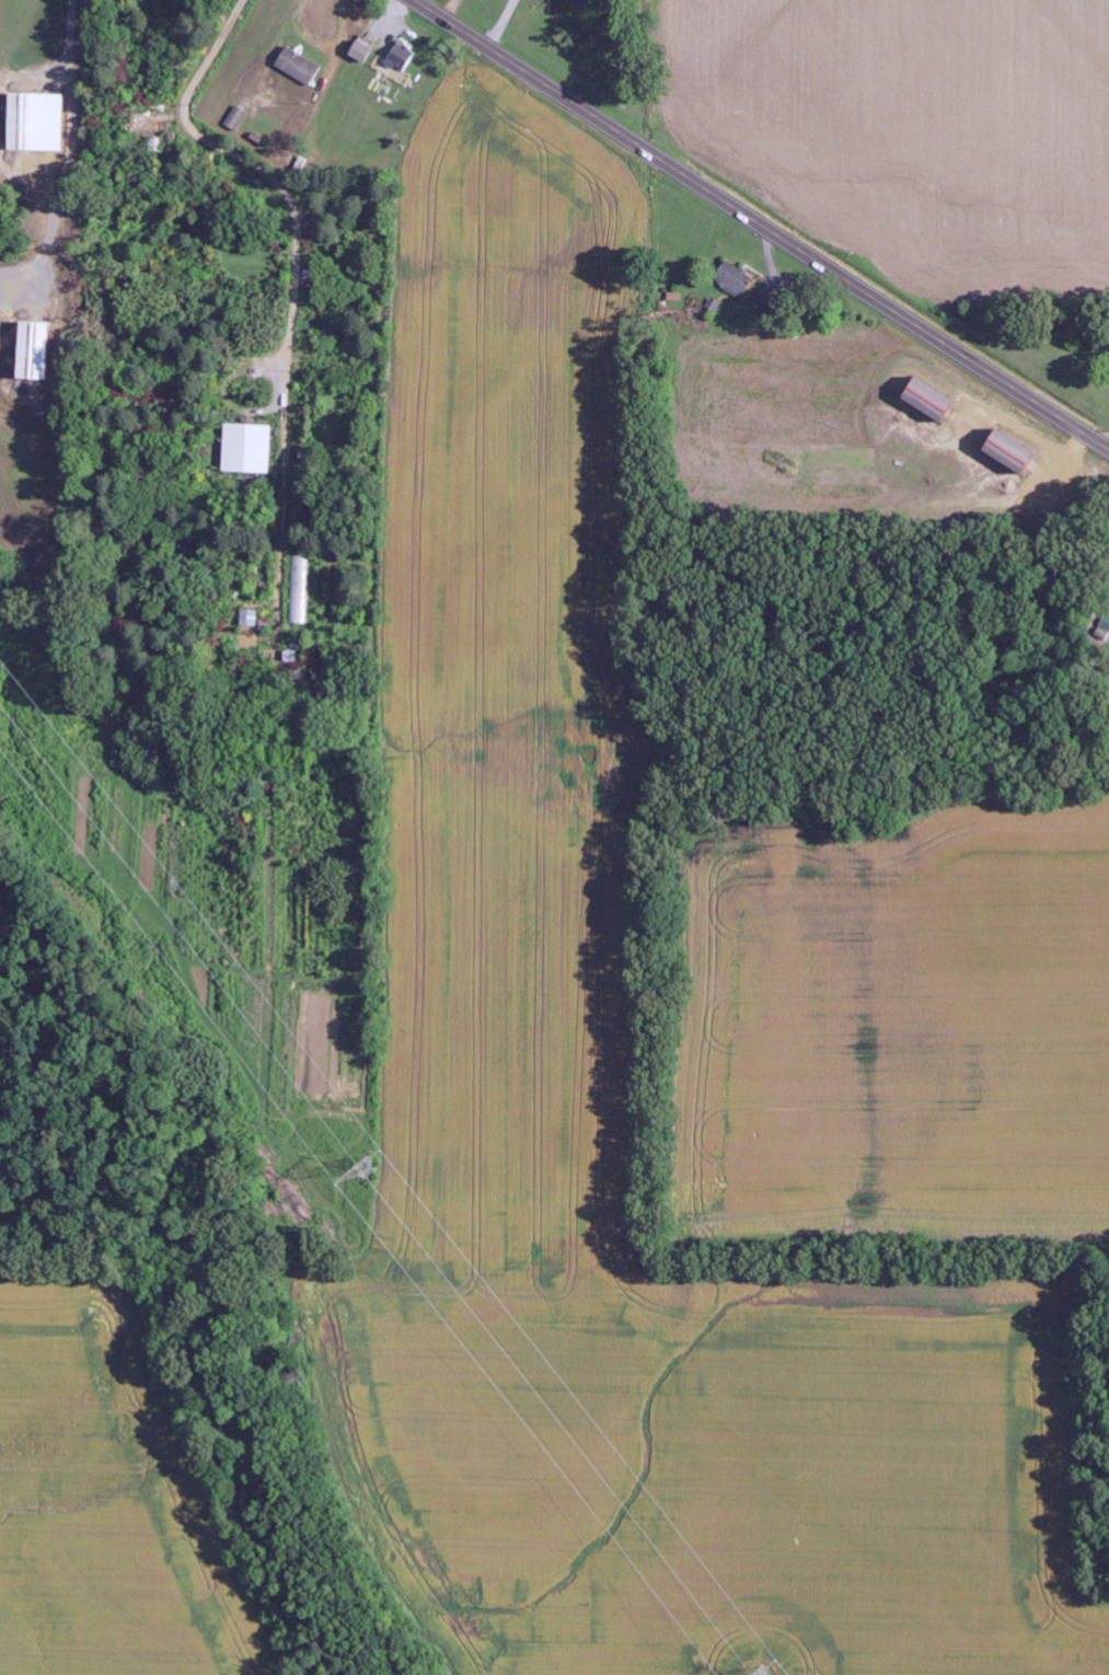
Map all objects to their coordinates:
building: (585, 1)
building: (363, 49)
building: (397, 62)
building: (299, 67)
building: (236, 119)
building: (37, 123)
building: (150, 124)
road: (761, 223)
building: (735, 279)
building: (35, 351)
building: (932, 401)
building: (250, 449)
building: (1013, 452)
building: (300, 590)
building: (250, 619)
power tower: (363, 1167)

